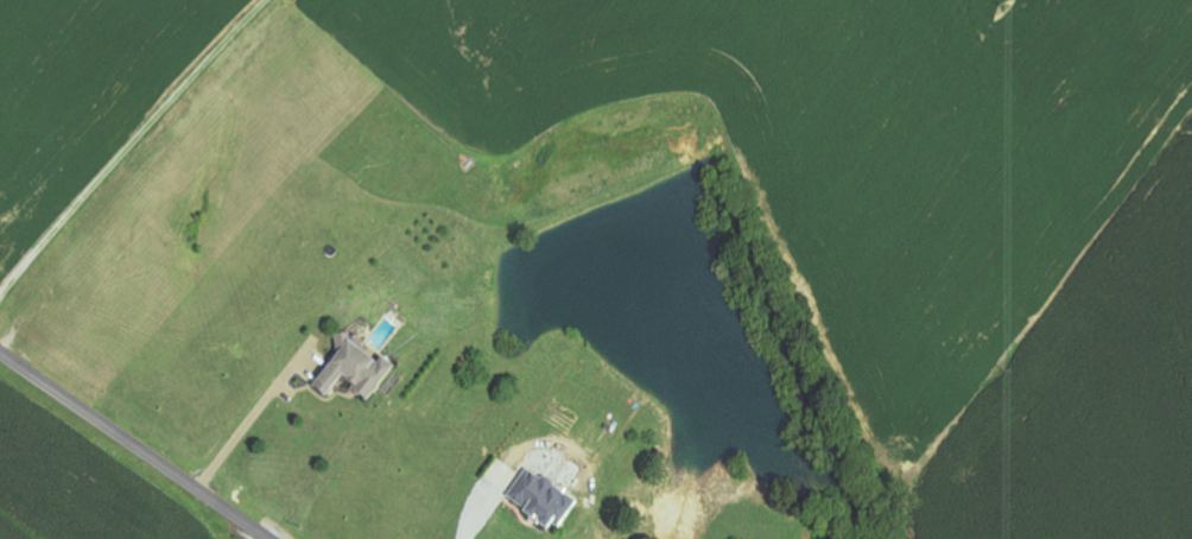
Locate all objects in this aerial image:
building: (357, 368)
road: (135, 444)
building: (545, 497)

